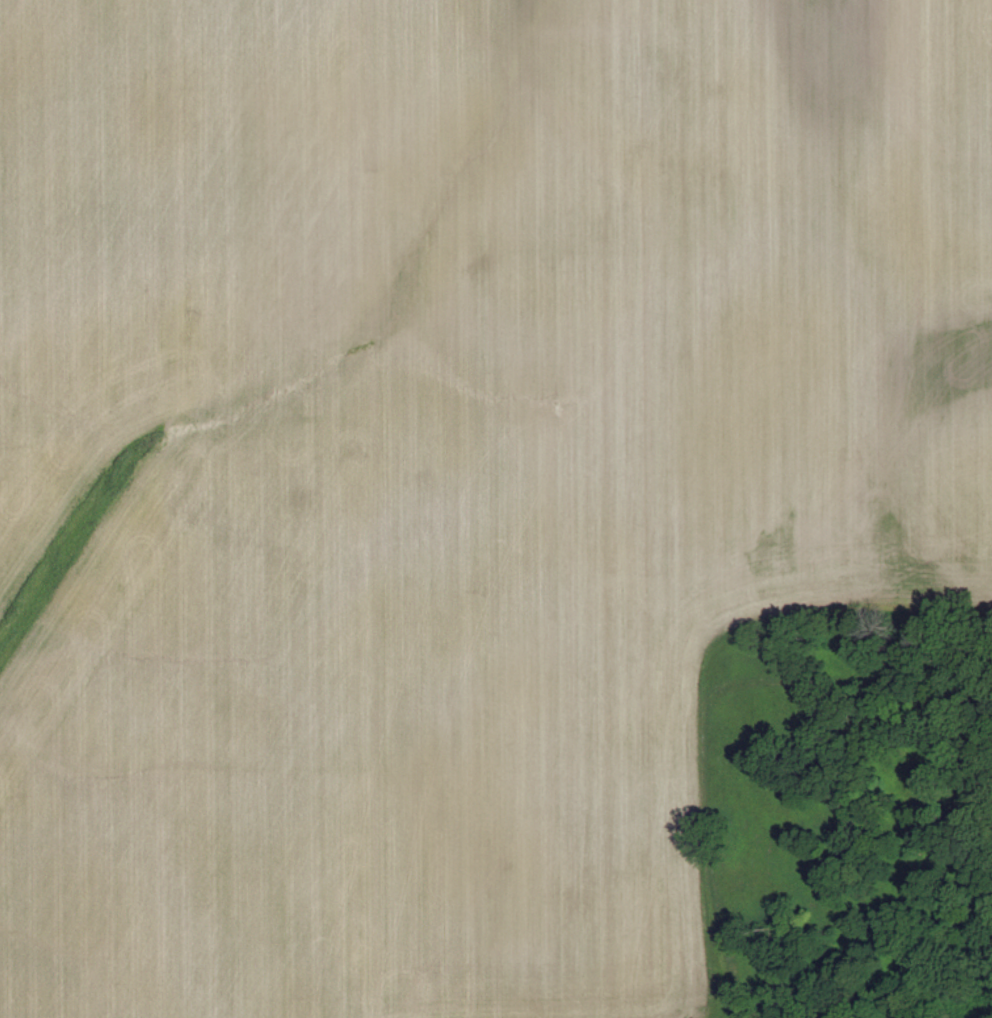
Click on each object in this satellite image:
road: (955, 1010)

